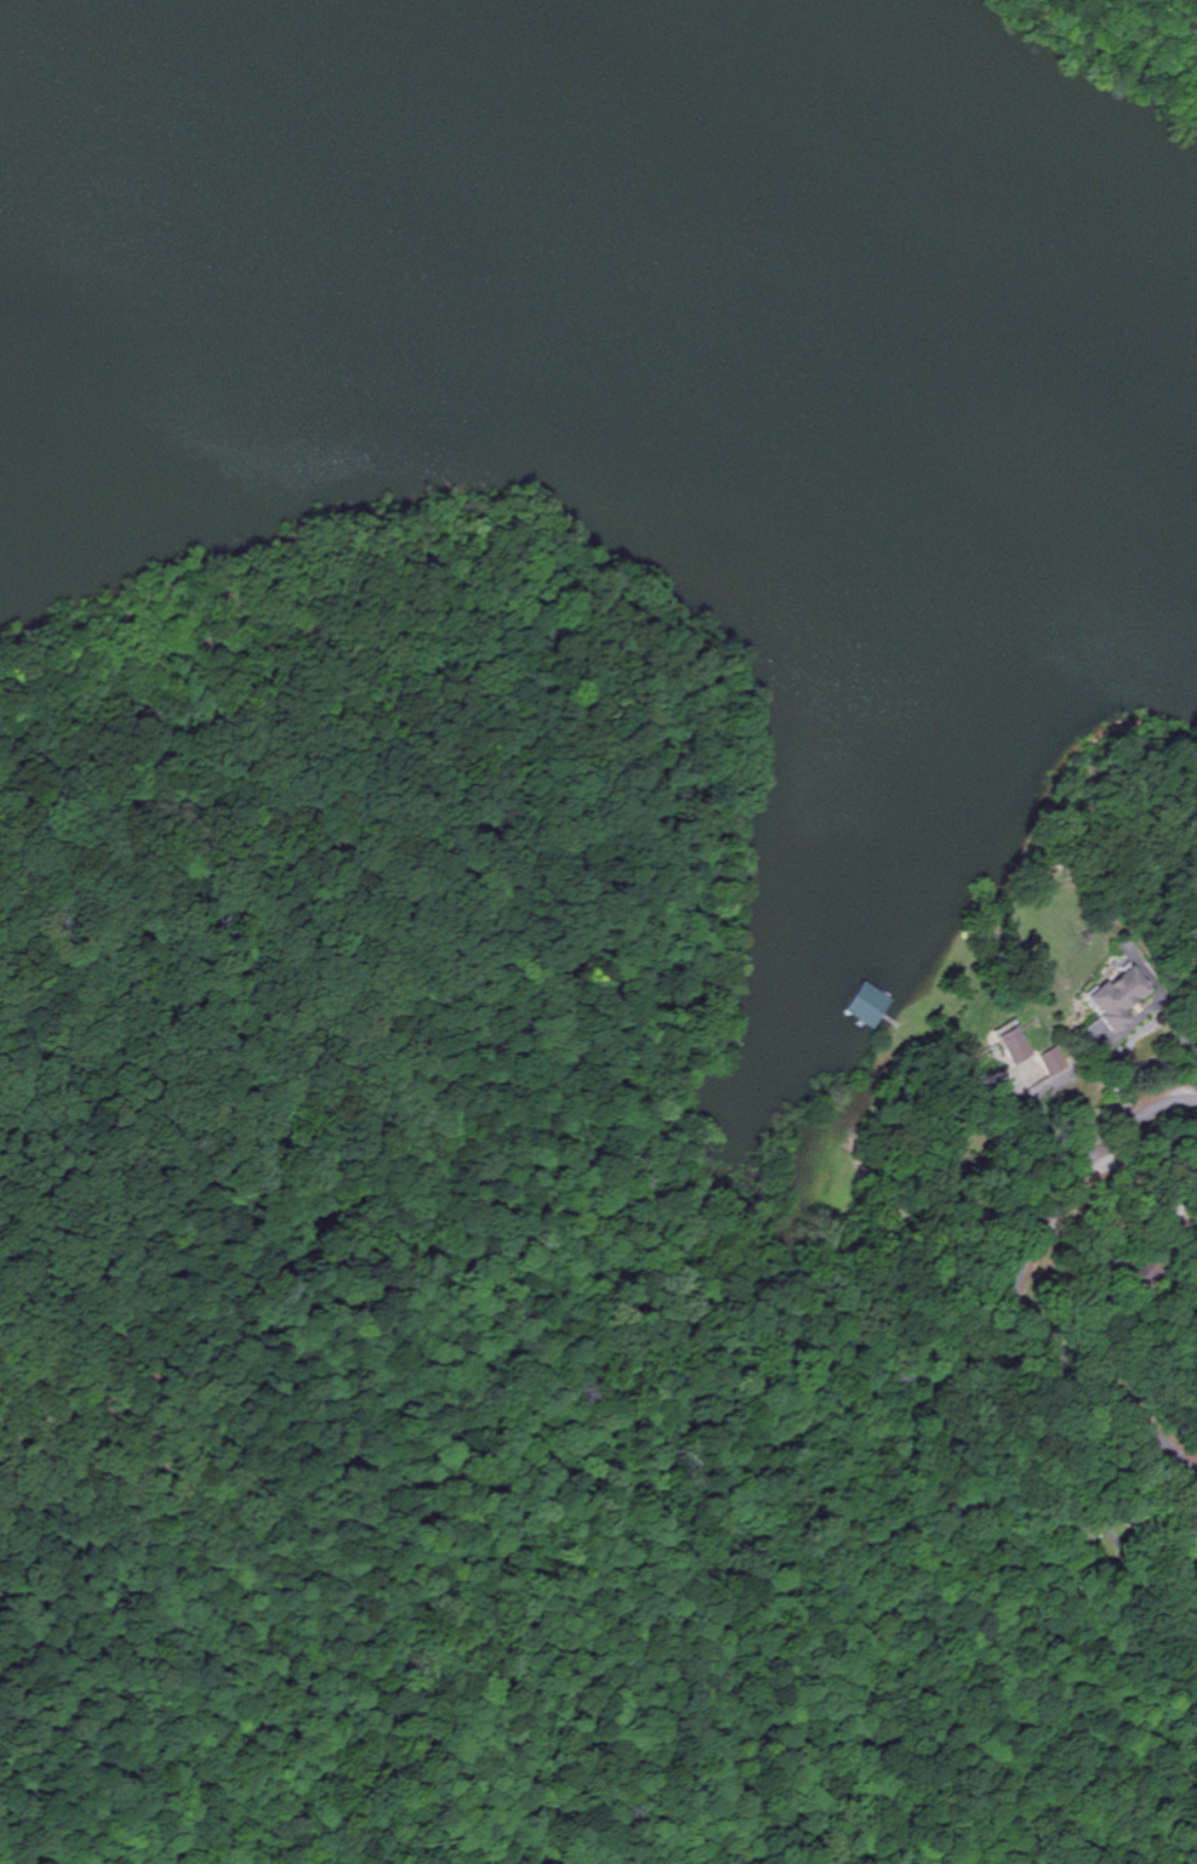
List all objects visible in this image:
building: (868, 1005)
building: (1015, 1042)
building: (1056, 1061)
road: (1014, 1286)
road: (127, 1562)

